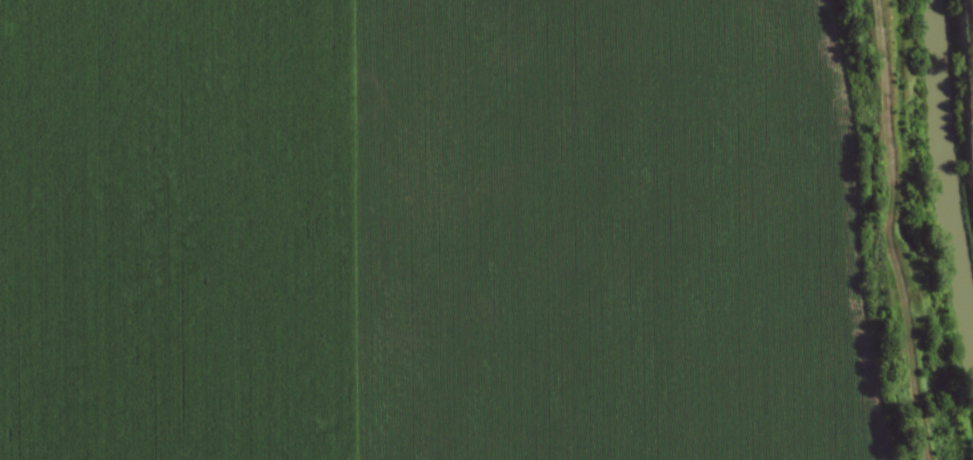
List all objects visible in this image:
crop: (425, 232)

